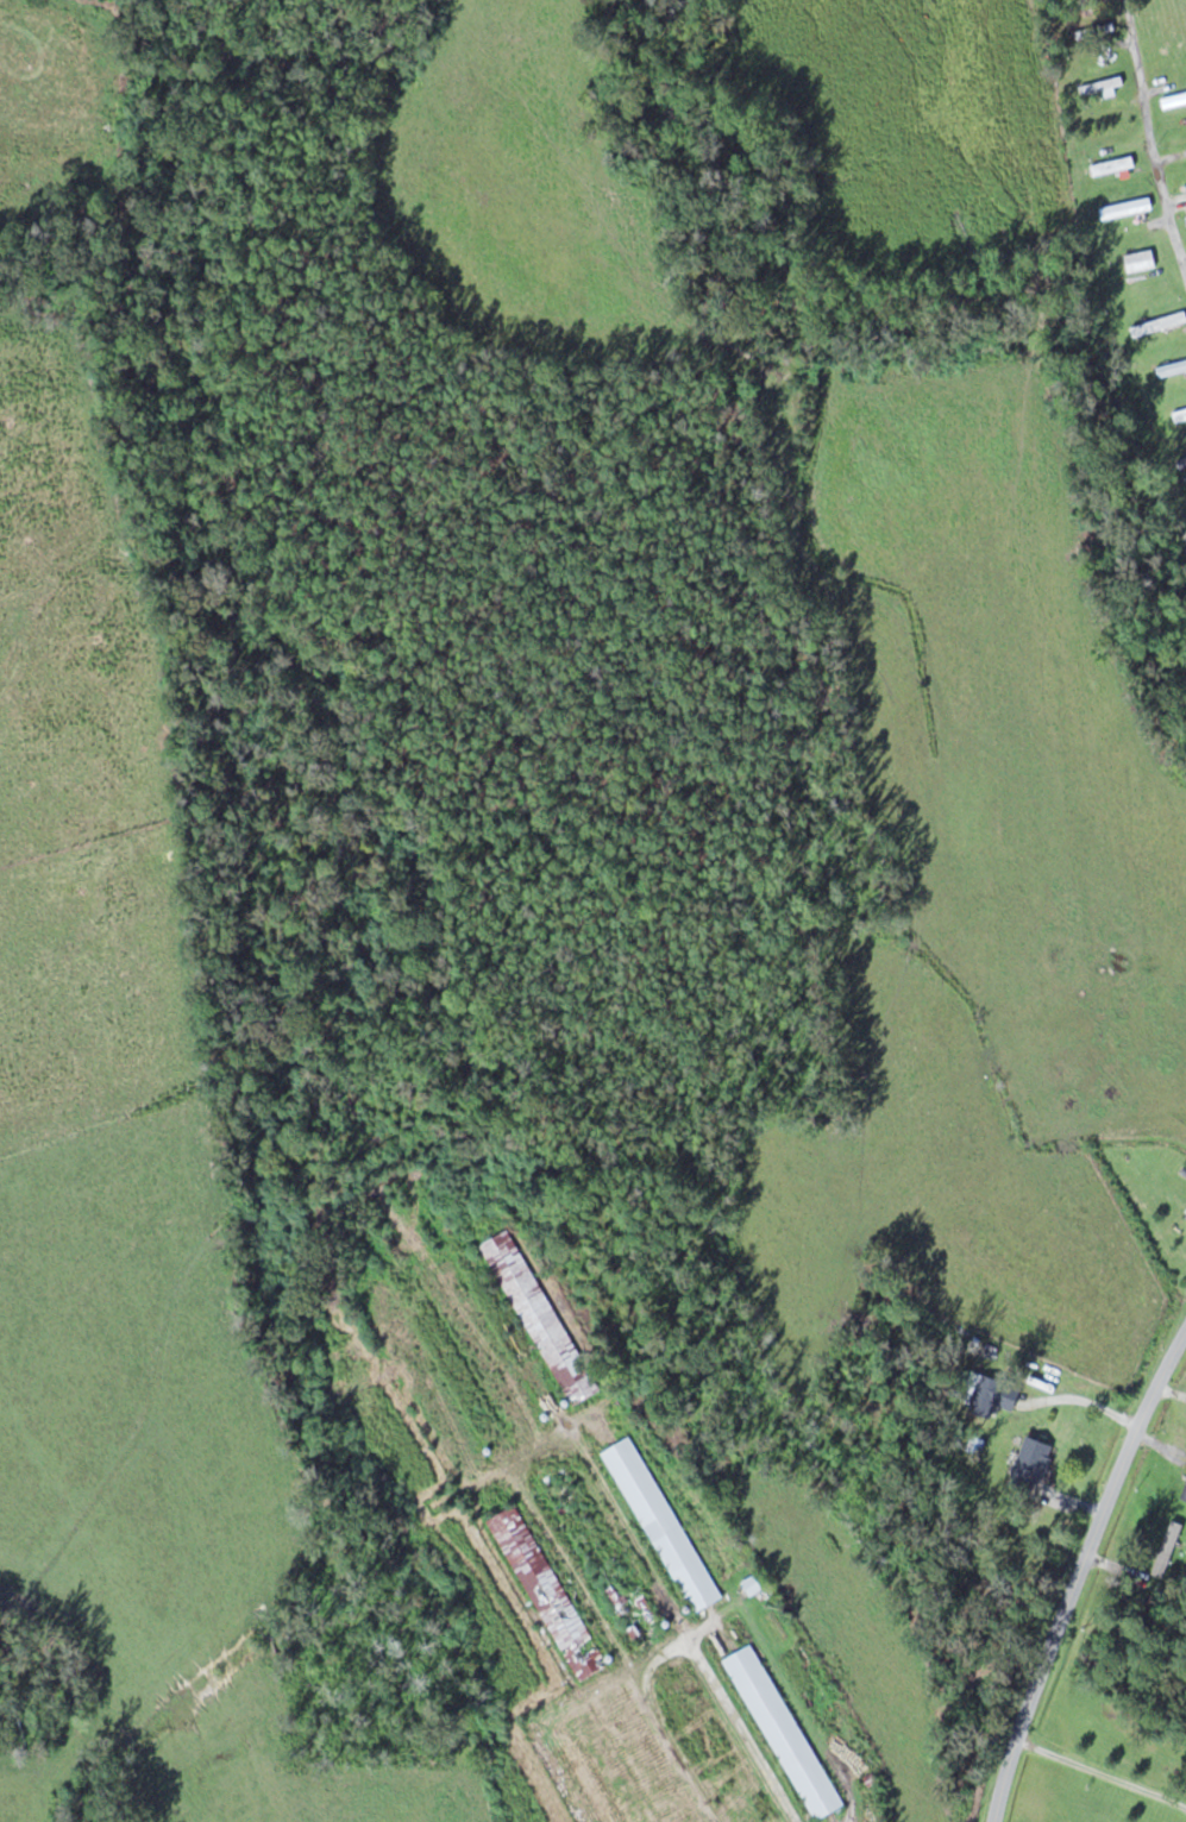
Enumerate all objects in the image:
building: (1090, 6)
building: (1102, 84)
building: (1174, 100)
road: (1159, 124)
building: (1127, 207)
building: (1185, 215)
building: (1141, 259)
building: (1159, 322)
building: (1173, 367)
building: (1180, 415)
building: (1185, 1215)
building: (540, 1317)
building: (483, 1351)
building: (426, 1387)
building: (1033, 1469)
building: (661, 1525)
building: (1173, 1532)
building: (605, 1559)
road: (1077, 1571)
building: (547, 1592)
building: (784, 1732)
building: (710, 1739)
building: (651, 1767)
building: (588, 1785)

